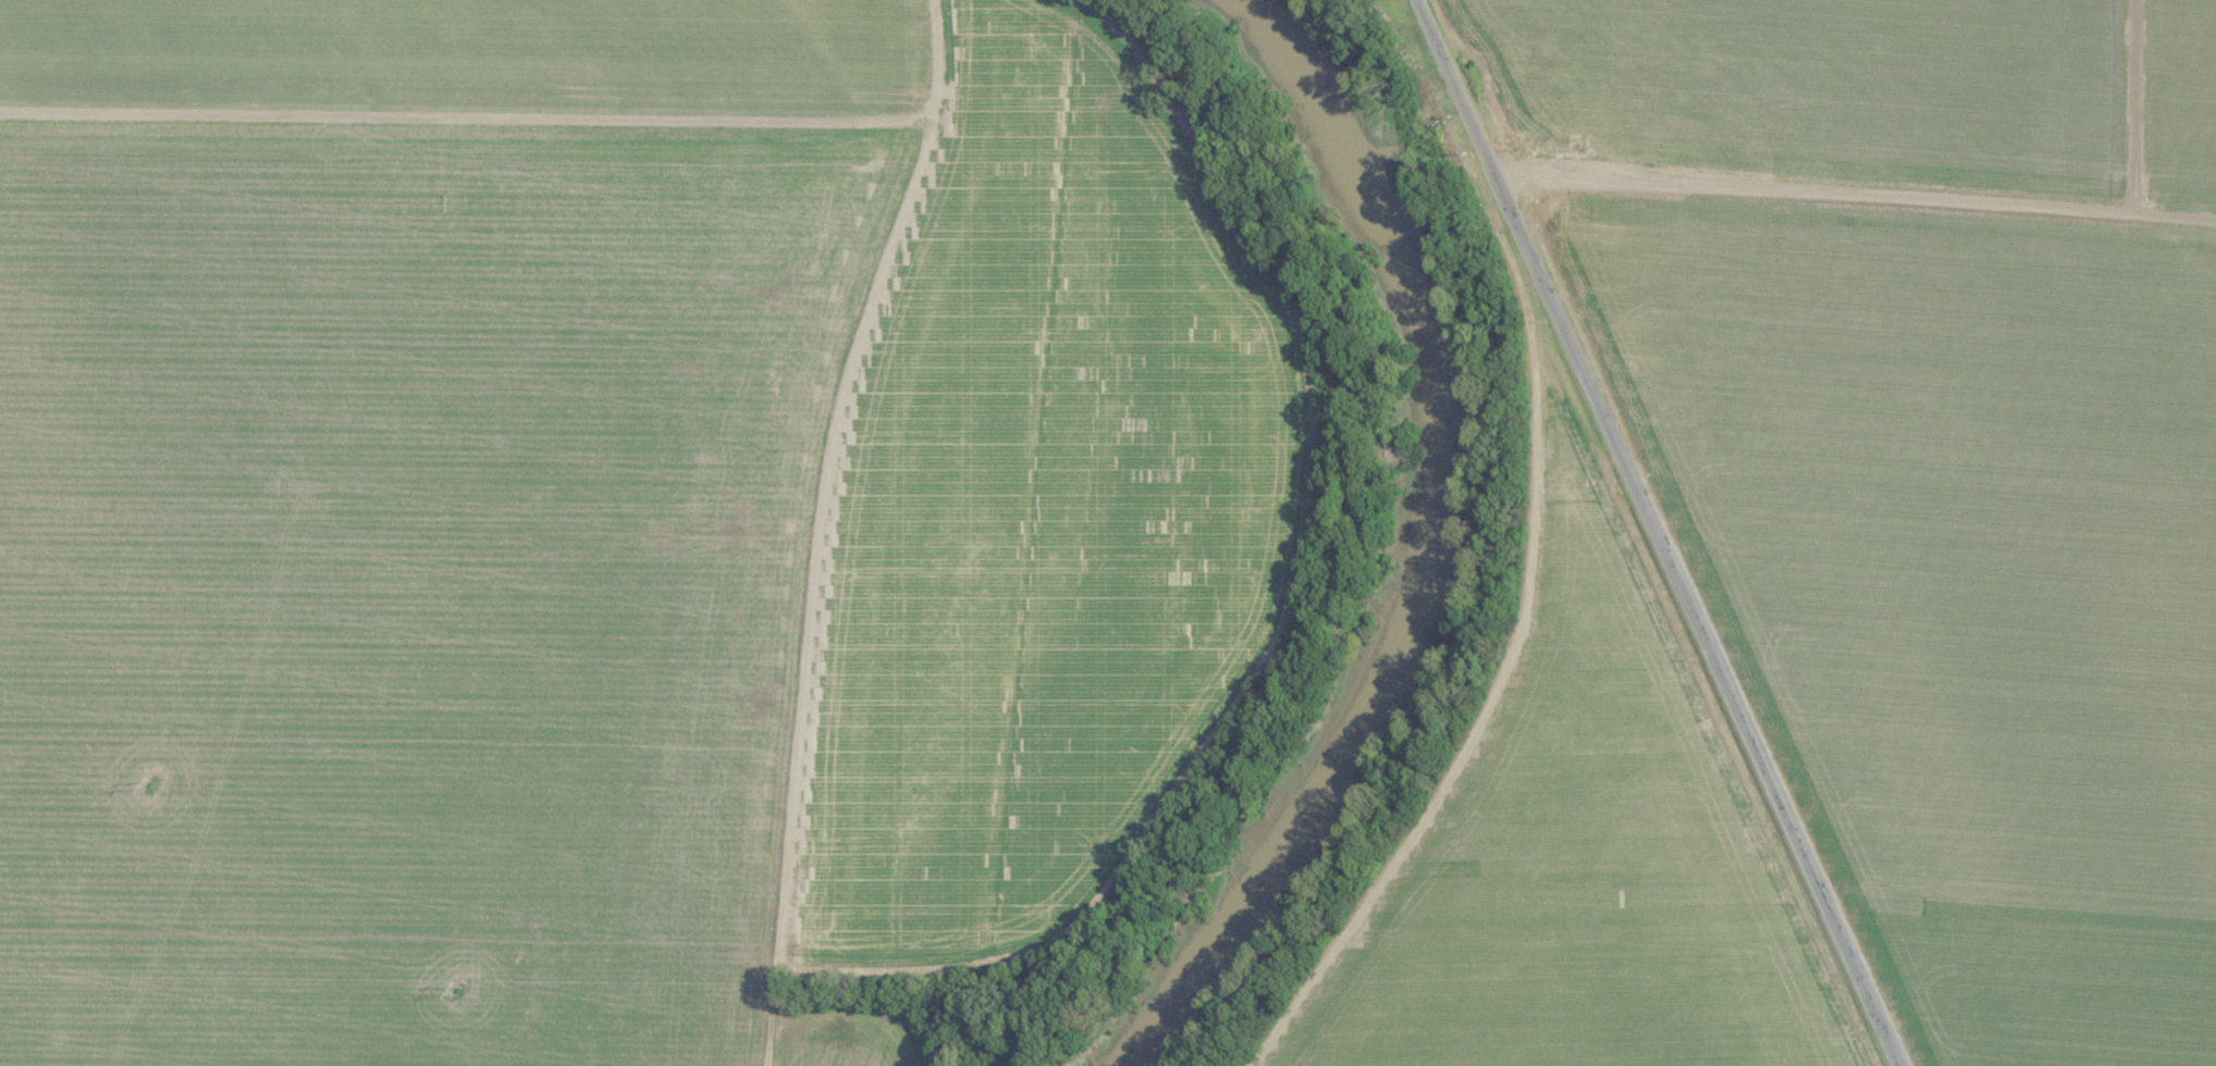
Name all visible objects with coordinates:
road: (1652, 534)
power tower: (152, 786)
power tower: (460, 989)

